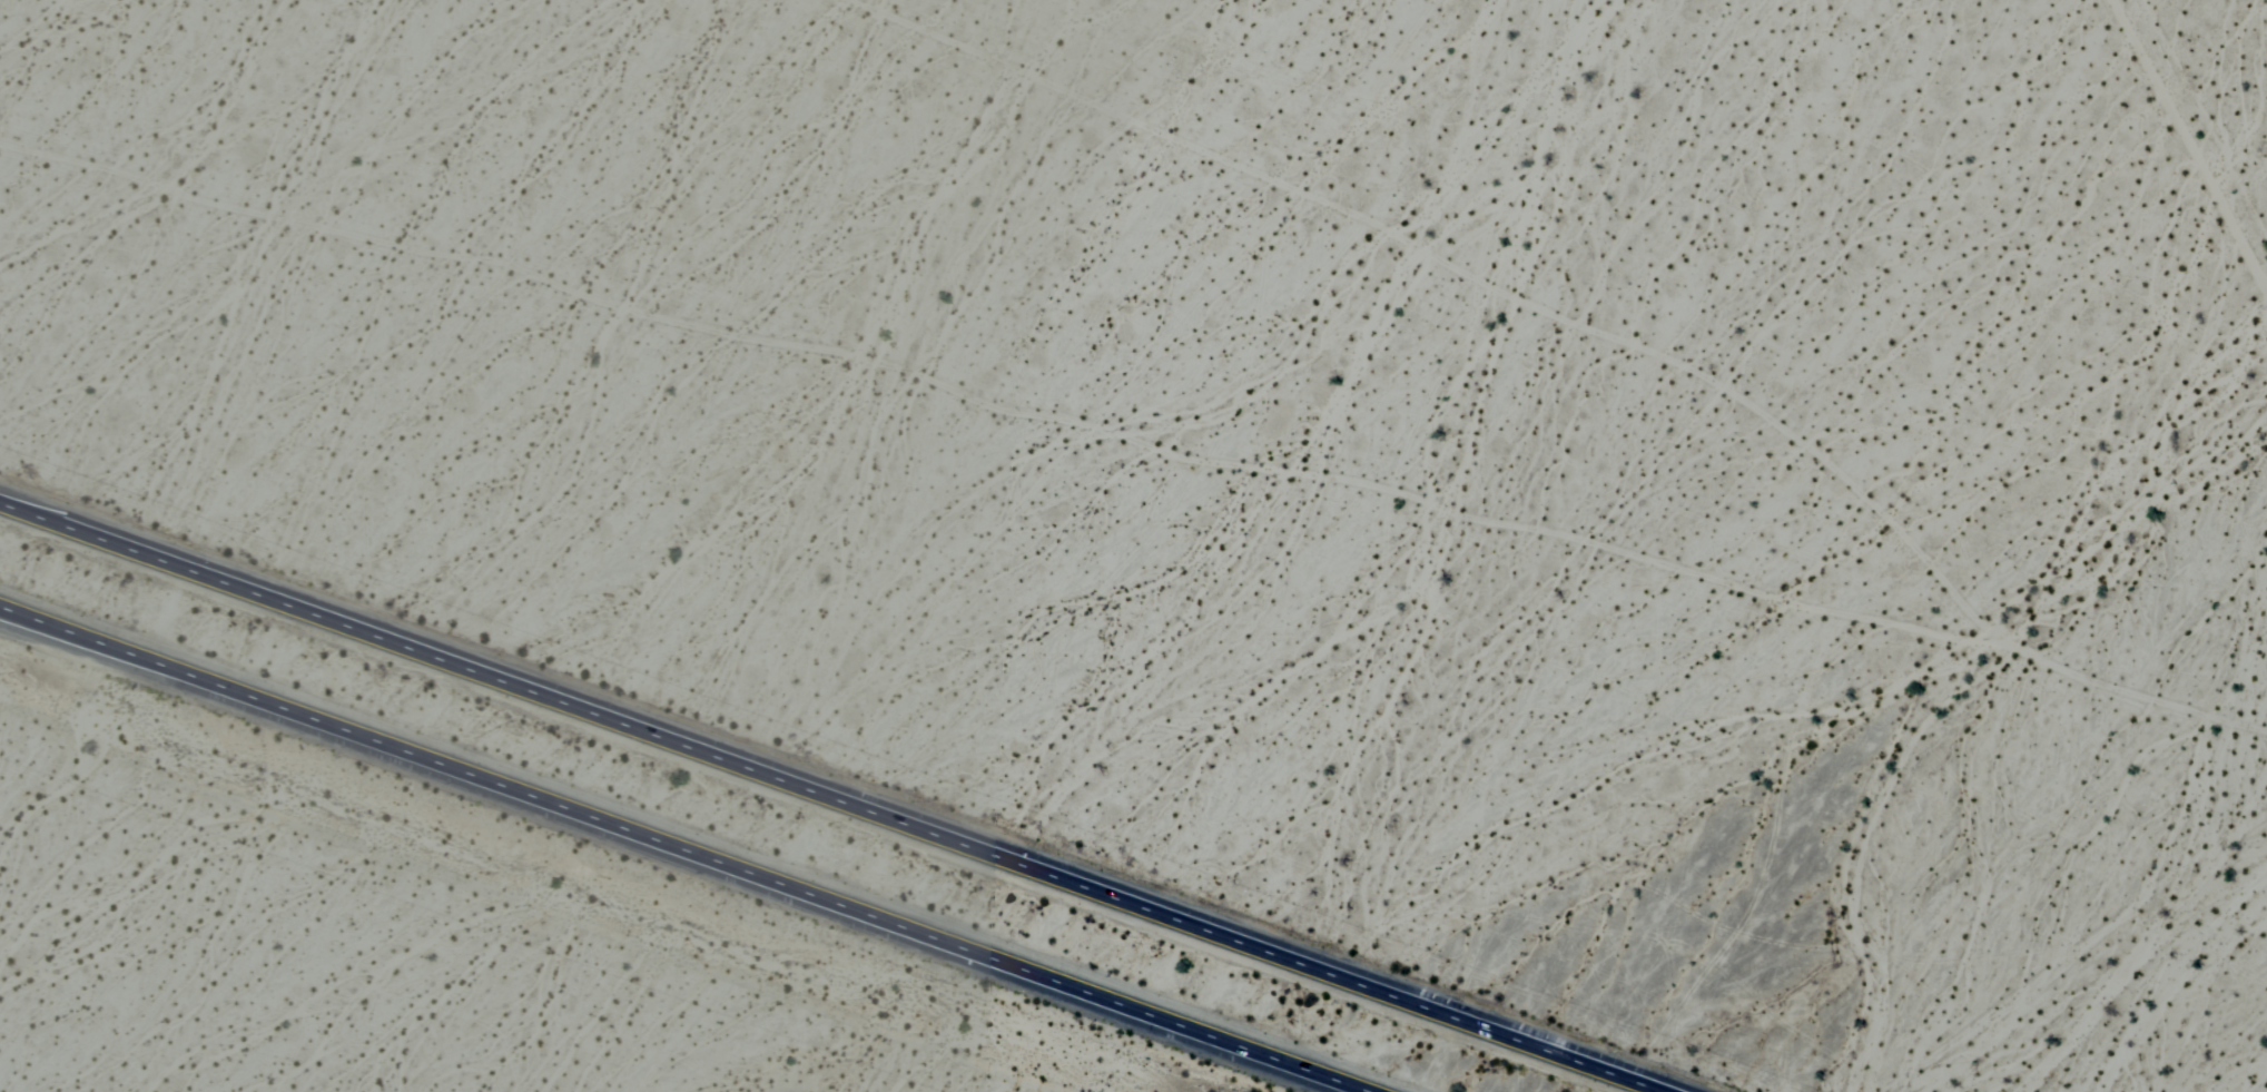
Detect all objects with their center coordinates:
road: (2188, 147)
road: (838, 794)
road: (697, 844)

